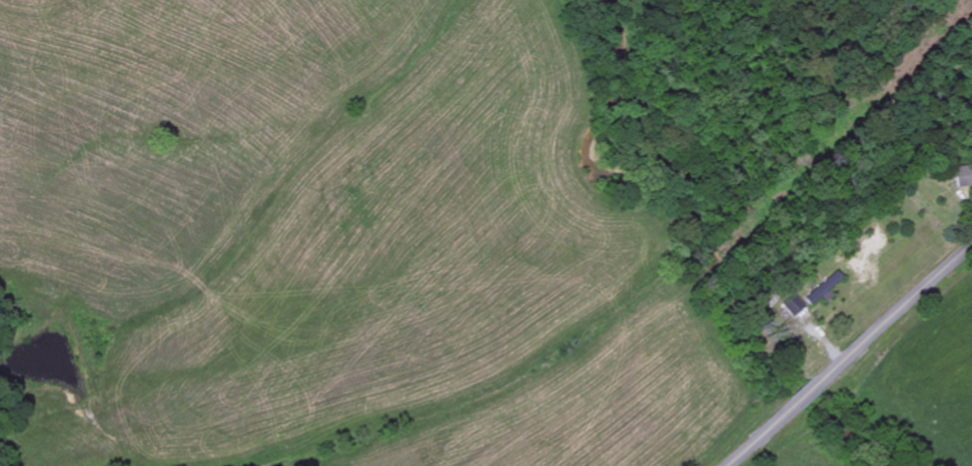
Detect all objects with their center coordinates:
building: (825, 290)
building: (795, 306)
road: (849, 356)

